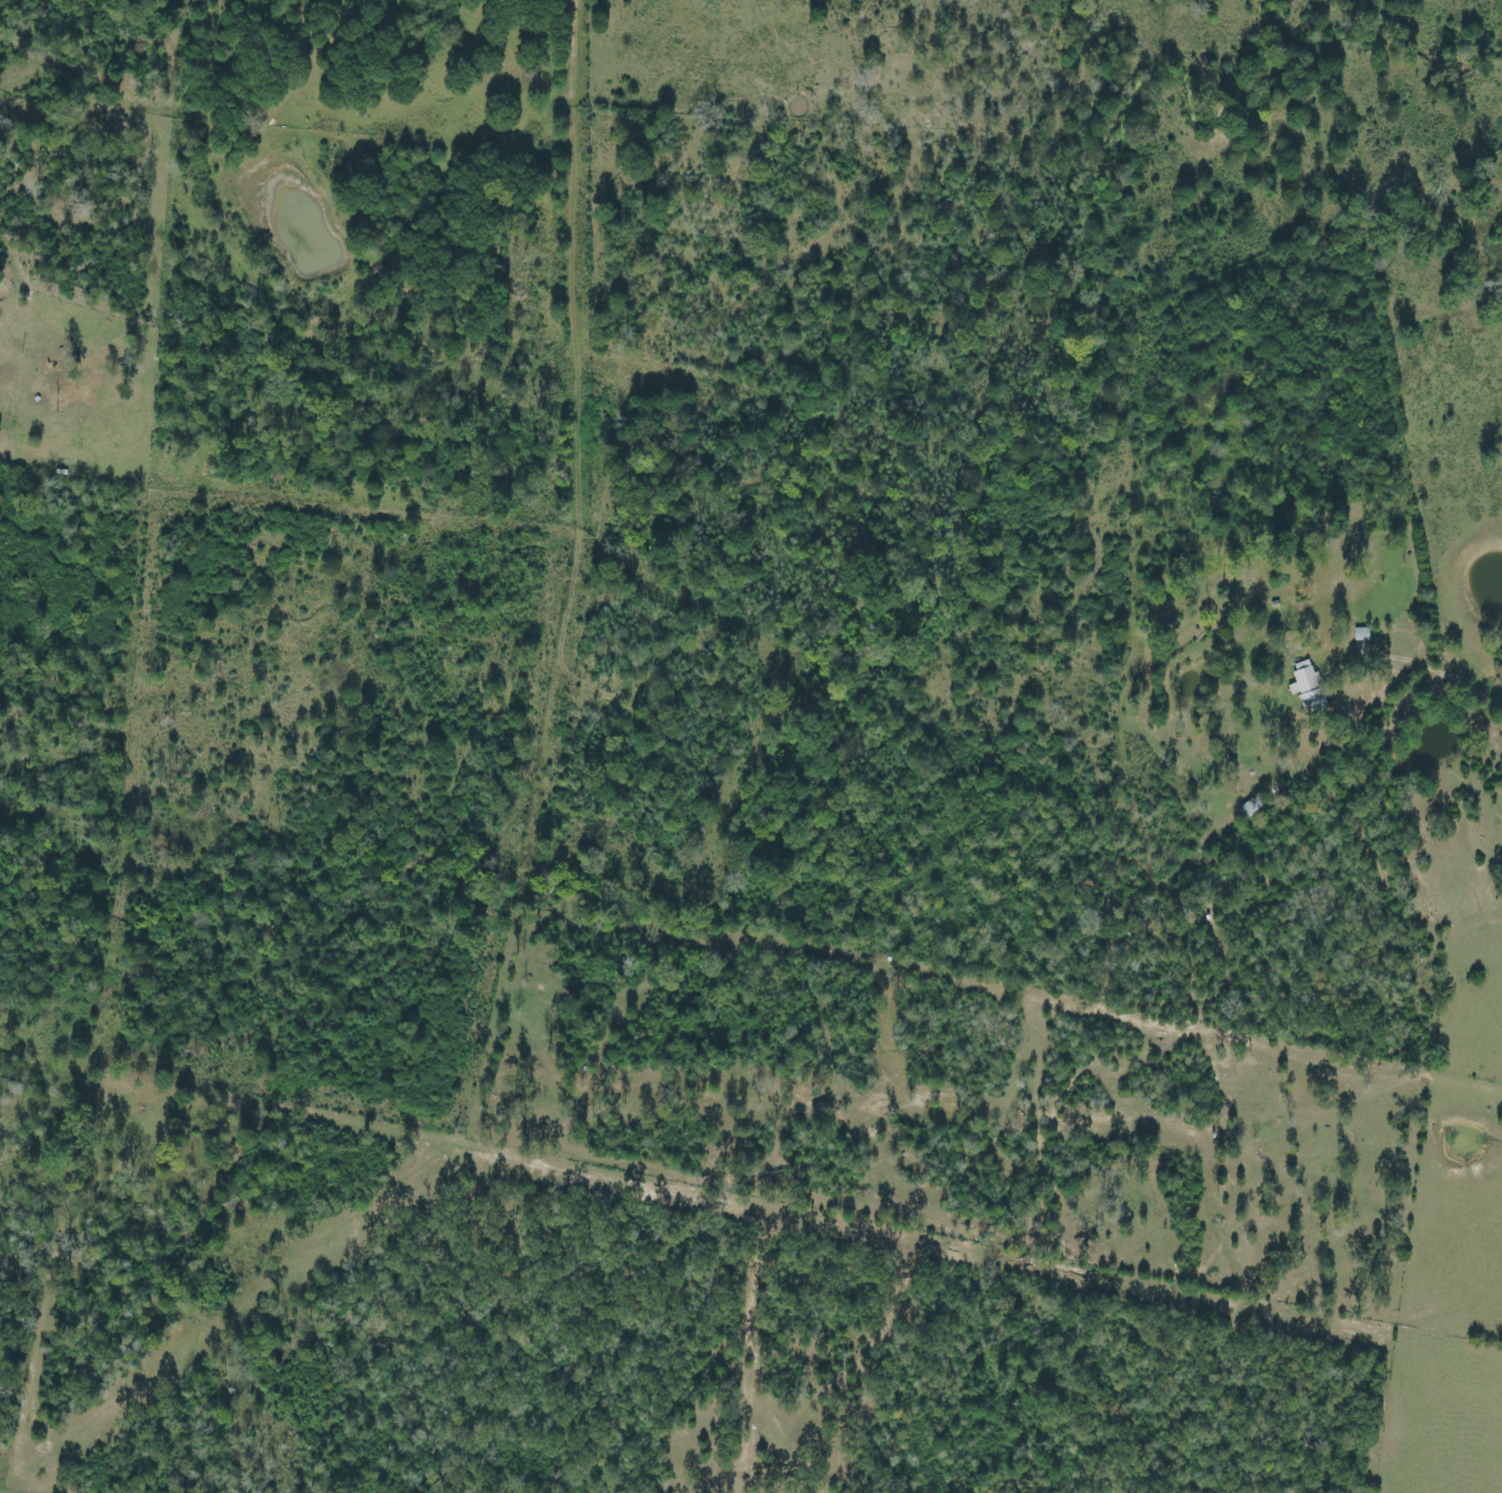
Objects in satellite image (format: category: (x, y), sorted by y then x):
road: (577, 108)
building: (1307, 687)
road: (1478, 689)
building: (1253, 805)

